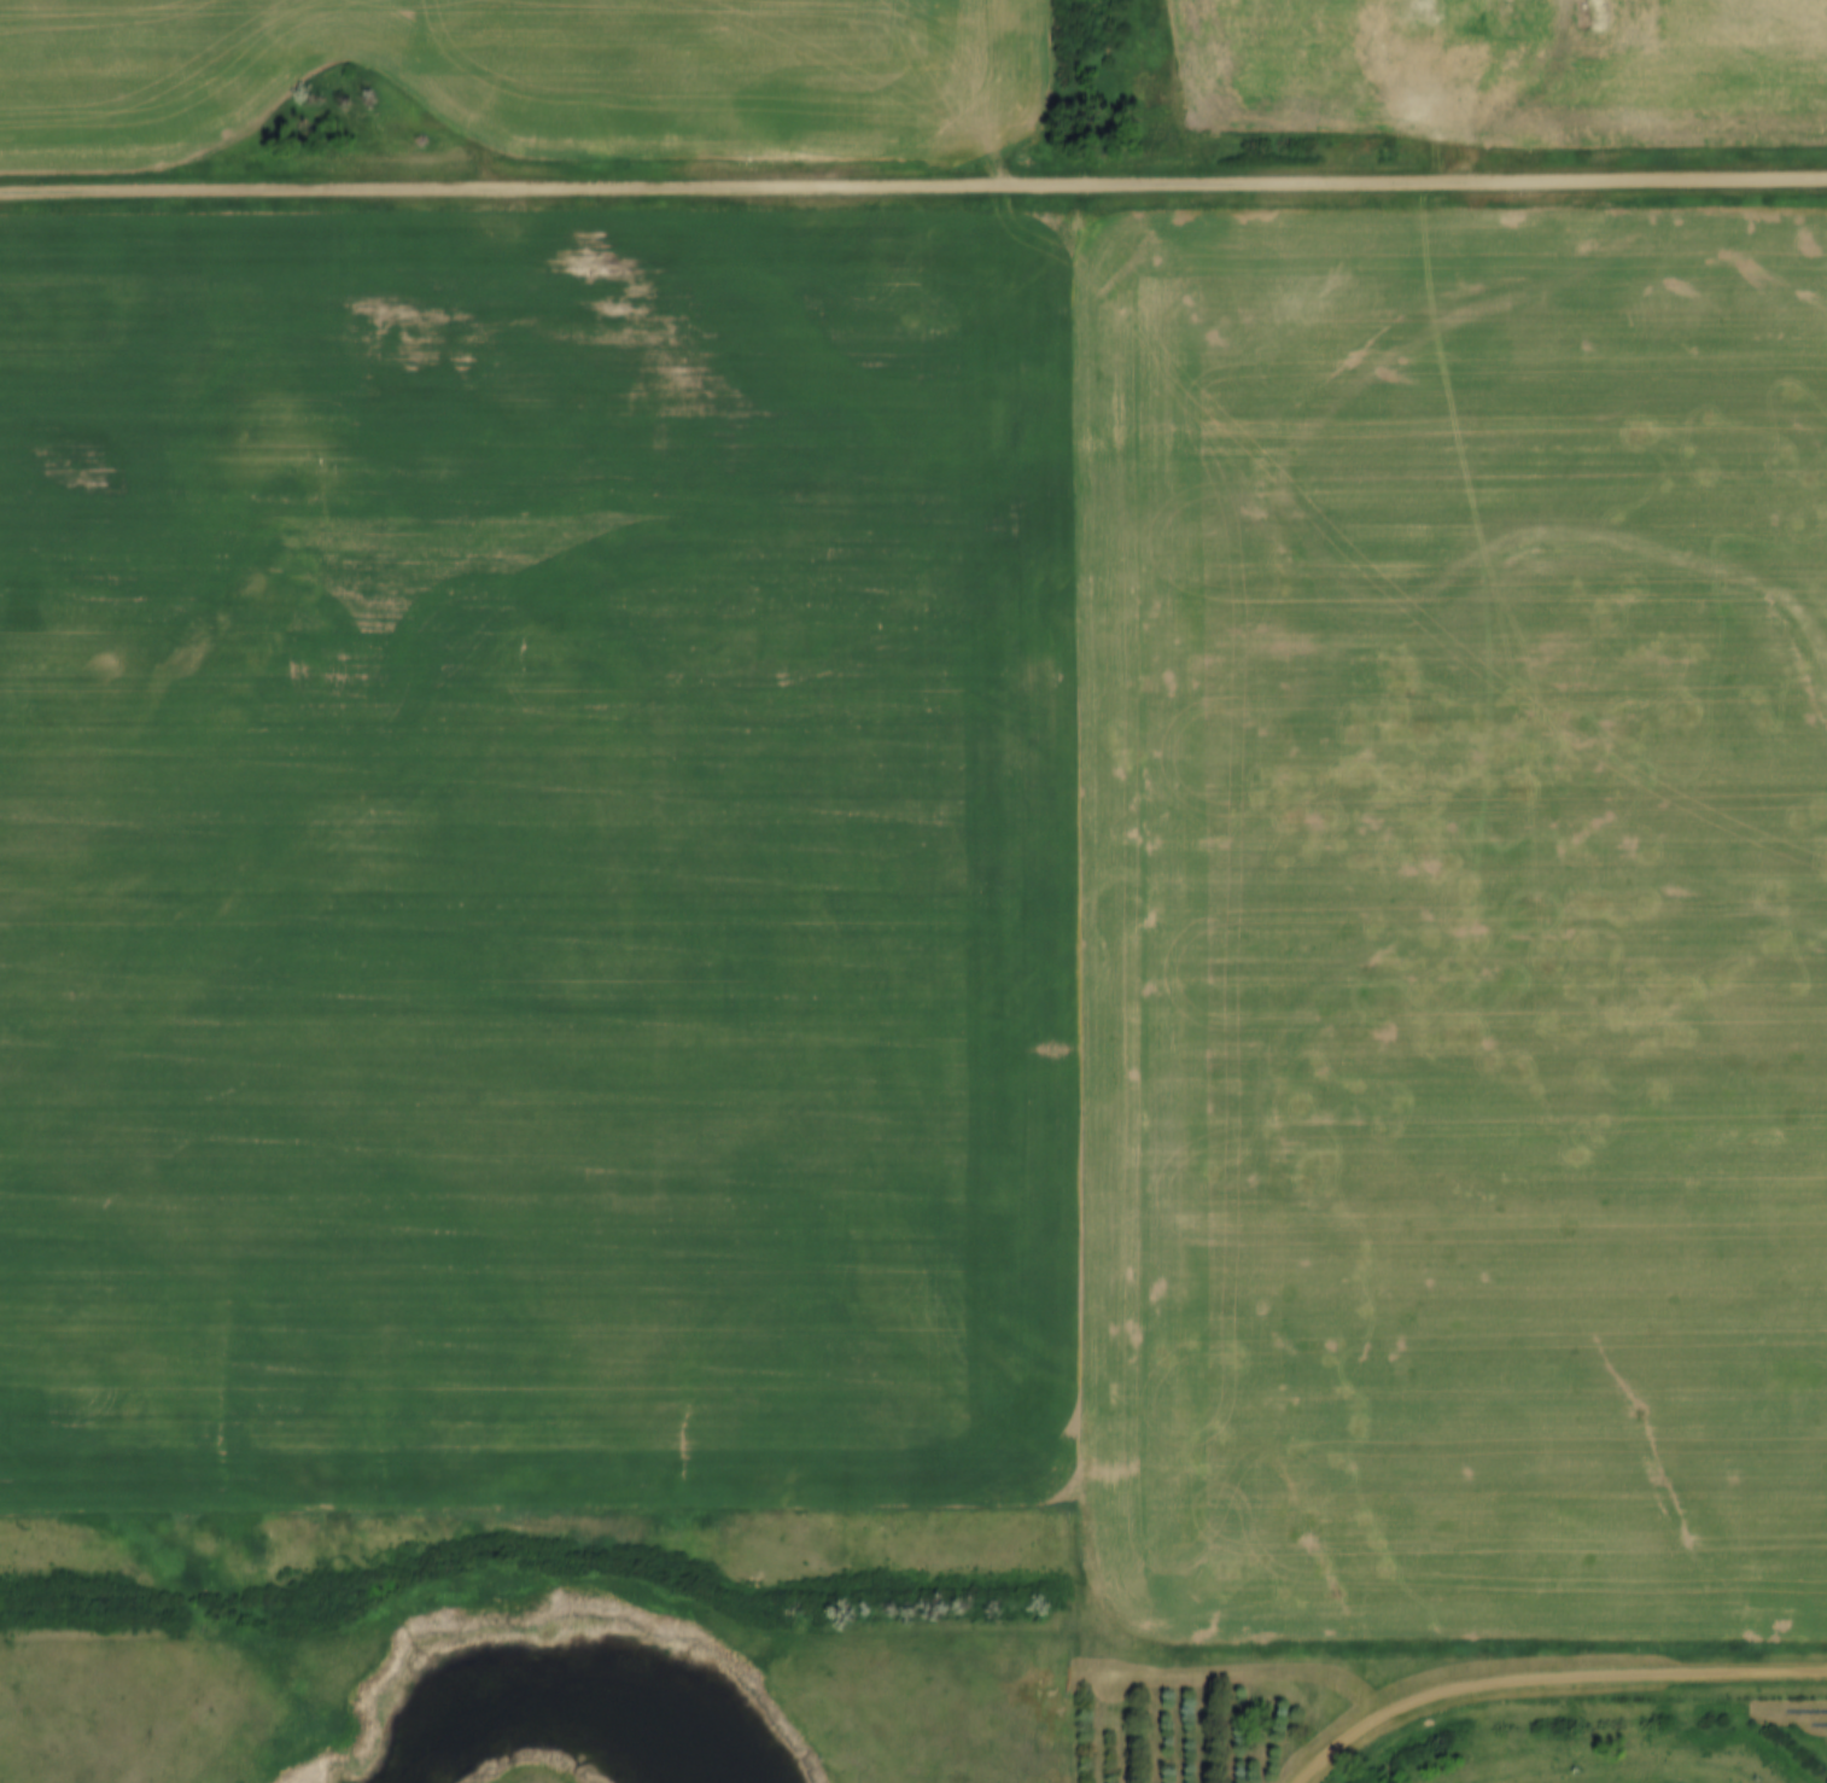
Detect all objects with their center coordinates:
building: (1506, 6)
road: (1414, 113)
road: (913, 188)
road: (1547, 1680)

